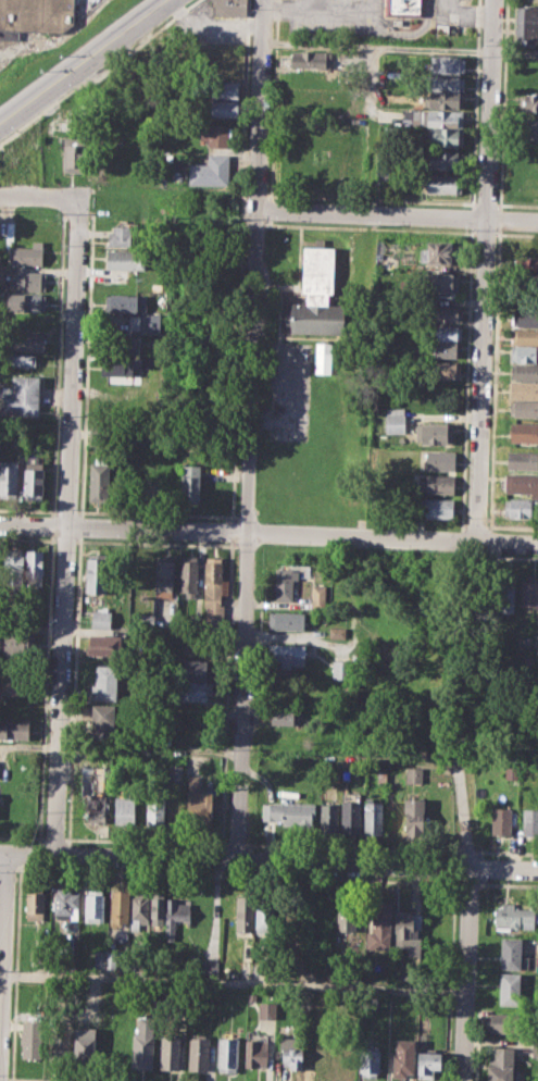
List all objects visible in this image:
building: (229, 8)
road: (289, 8)
building: (404, 8)
road: (345, 13)
road: (463, 14)
building: (37, 15)
parking lot: (450, 15)
parking lot: (335, 17)
road: (211, 23)
building: (527, 25)
road: (400, 48)
building: (306, 59)
road: (82, 60)
building: (448, 63)
building: (309, 77)
building: (446, 83)
building: (225, 88)
building: (442, 99)
building: (528, 102)
road: (260, 104)
building: (224, 109)
building: (431, 117)
building: (529, 127)
building: (218, 135)
building: (446, 136)
building: (73, 153)
building: (446, 160)
building: (30, 163)
building: (210, 171)
building: (386, 174)
building: (442, 184)
road: (41, 195)
road: (397, 215)
building: (10, 229)
building: (124, 234)
building: (440, 252)
building: (26, 253)
building: (127, 259)
building: (526, 266)
road: (485, 270)
building: (318, 271)
building: (26, 281)
building: (441, 282)
building: (155, 286)
building: (25, 301)
building: (124, 301)
building: (446, 313)
building: (316, 316)
building: (524, 318)
building: (143, 323)
building: (445, 332)
building: (524, 336)
building: (25, 340)
building: (121, 344)
building: (443, 349)
building: (524, 352)
building: (324, 357)
building: (20, 358)
building: (116, 366)
building: (443, 370)
building: (524, 371)
building: (524, 389)
parking lot: (289, 392)
building: (24, 395)
building: (524, 408)
building: (396, 419)
building: (436, 432)
building: (524, 432)
building: (440, 459)
building: (522, 460)
building: (9, 479)
building: (99, 479)
building: (34, 480)
building: (191, 482)
building: (521, 483)
building: (437, 484)
building: (437, 507)
building: (521, 507)
road: (64, 532)
road: (268, 534)
road: (245, 535)
building: (13, 567)
building: (34, 568)
building: (97, 572)
building: (164, 573)
building: (189, 575)
building: (285, 582)
building: (213, 591)
building: (505, 591)
building: (529, 592)
building: (318, 597)
building: (101, 619)
building: (286, 620)
building: (336, 633)
building: (17, 642)
building: (104, 644)
building: (288, 654)
building: (197, 669)
building: (339, 669)
building: (104, 682)
building: (14, 685)
building: (193, 689)
building: (280, 716)
building: (103, 719)
building: (14, 728)
building: (176, 772)
building: (414, 773)
building: (95, 792)
building: (198, 802)
building: (123, 809)
building: (155, 811)
building: (290, 812)
building: (414, 815)
building: (372, 816)
building: (350, 817)
building: (328, 818)
building: (502, 822)
building: (530, 822)
road: (268, 861)
building: (34, 903)
building: (64, 903)
building: (95, 905)
building: (118, 905)
building: (157, 908)
building: (139, 909)
building: (176, 916)
building: (243, 916)
building: (347, 916)
building: (512, 916)
building: (264, 917)
road: (465, 919)
building: (379, 927)
building: (409, 932)
road: (3, 943)
building: (513, 955)
building: (99, 958)
building: (111, 959)
building: (209, 967)
road: (1, 973)
road: (233, 982)
building: (509, 989)
building: (251, 996)
building: (267, 1010)
building: (504, 1021)
building: (32, 1039)
building: (84, 1043)
building: (142, 1043)
building: (321, 1046)
building: (59, 1047)
building: (170, 1051)
building: (292, 1052)
building: (227, 1053)
building: (257, 1053)
building: (197, 1054)
building: (404, 1056)
building: (370, 1061)
building: (429, 1064)
building: (500, 1064)

